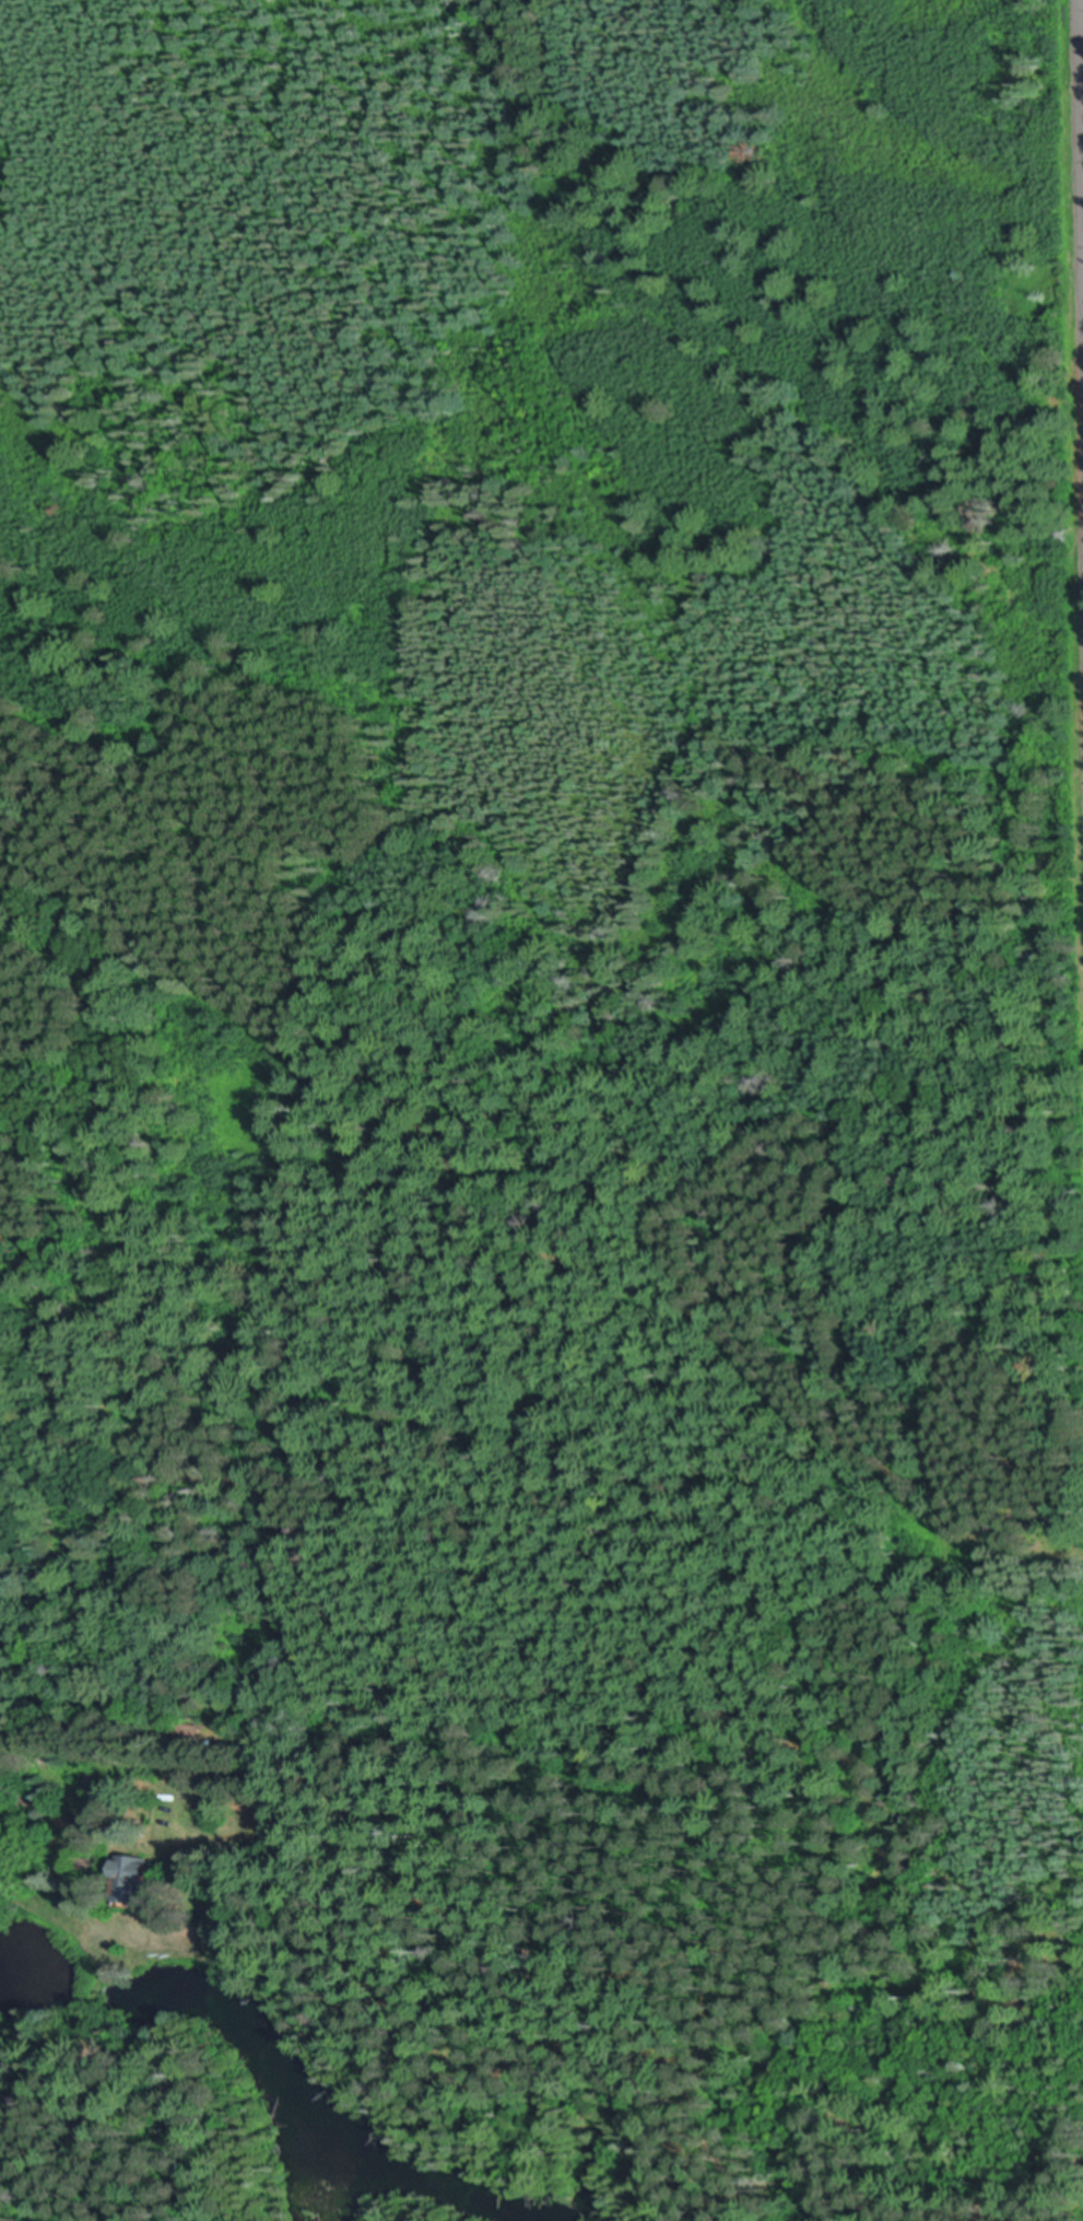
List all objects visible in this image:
road: (1082, 70)
road: (1005, 1540)
road: (902, 1620)
road: (710, 1977)

